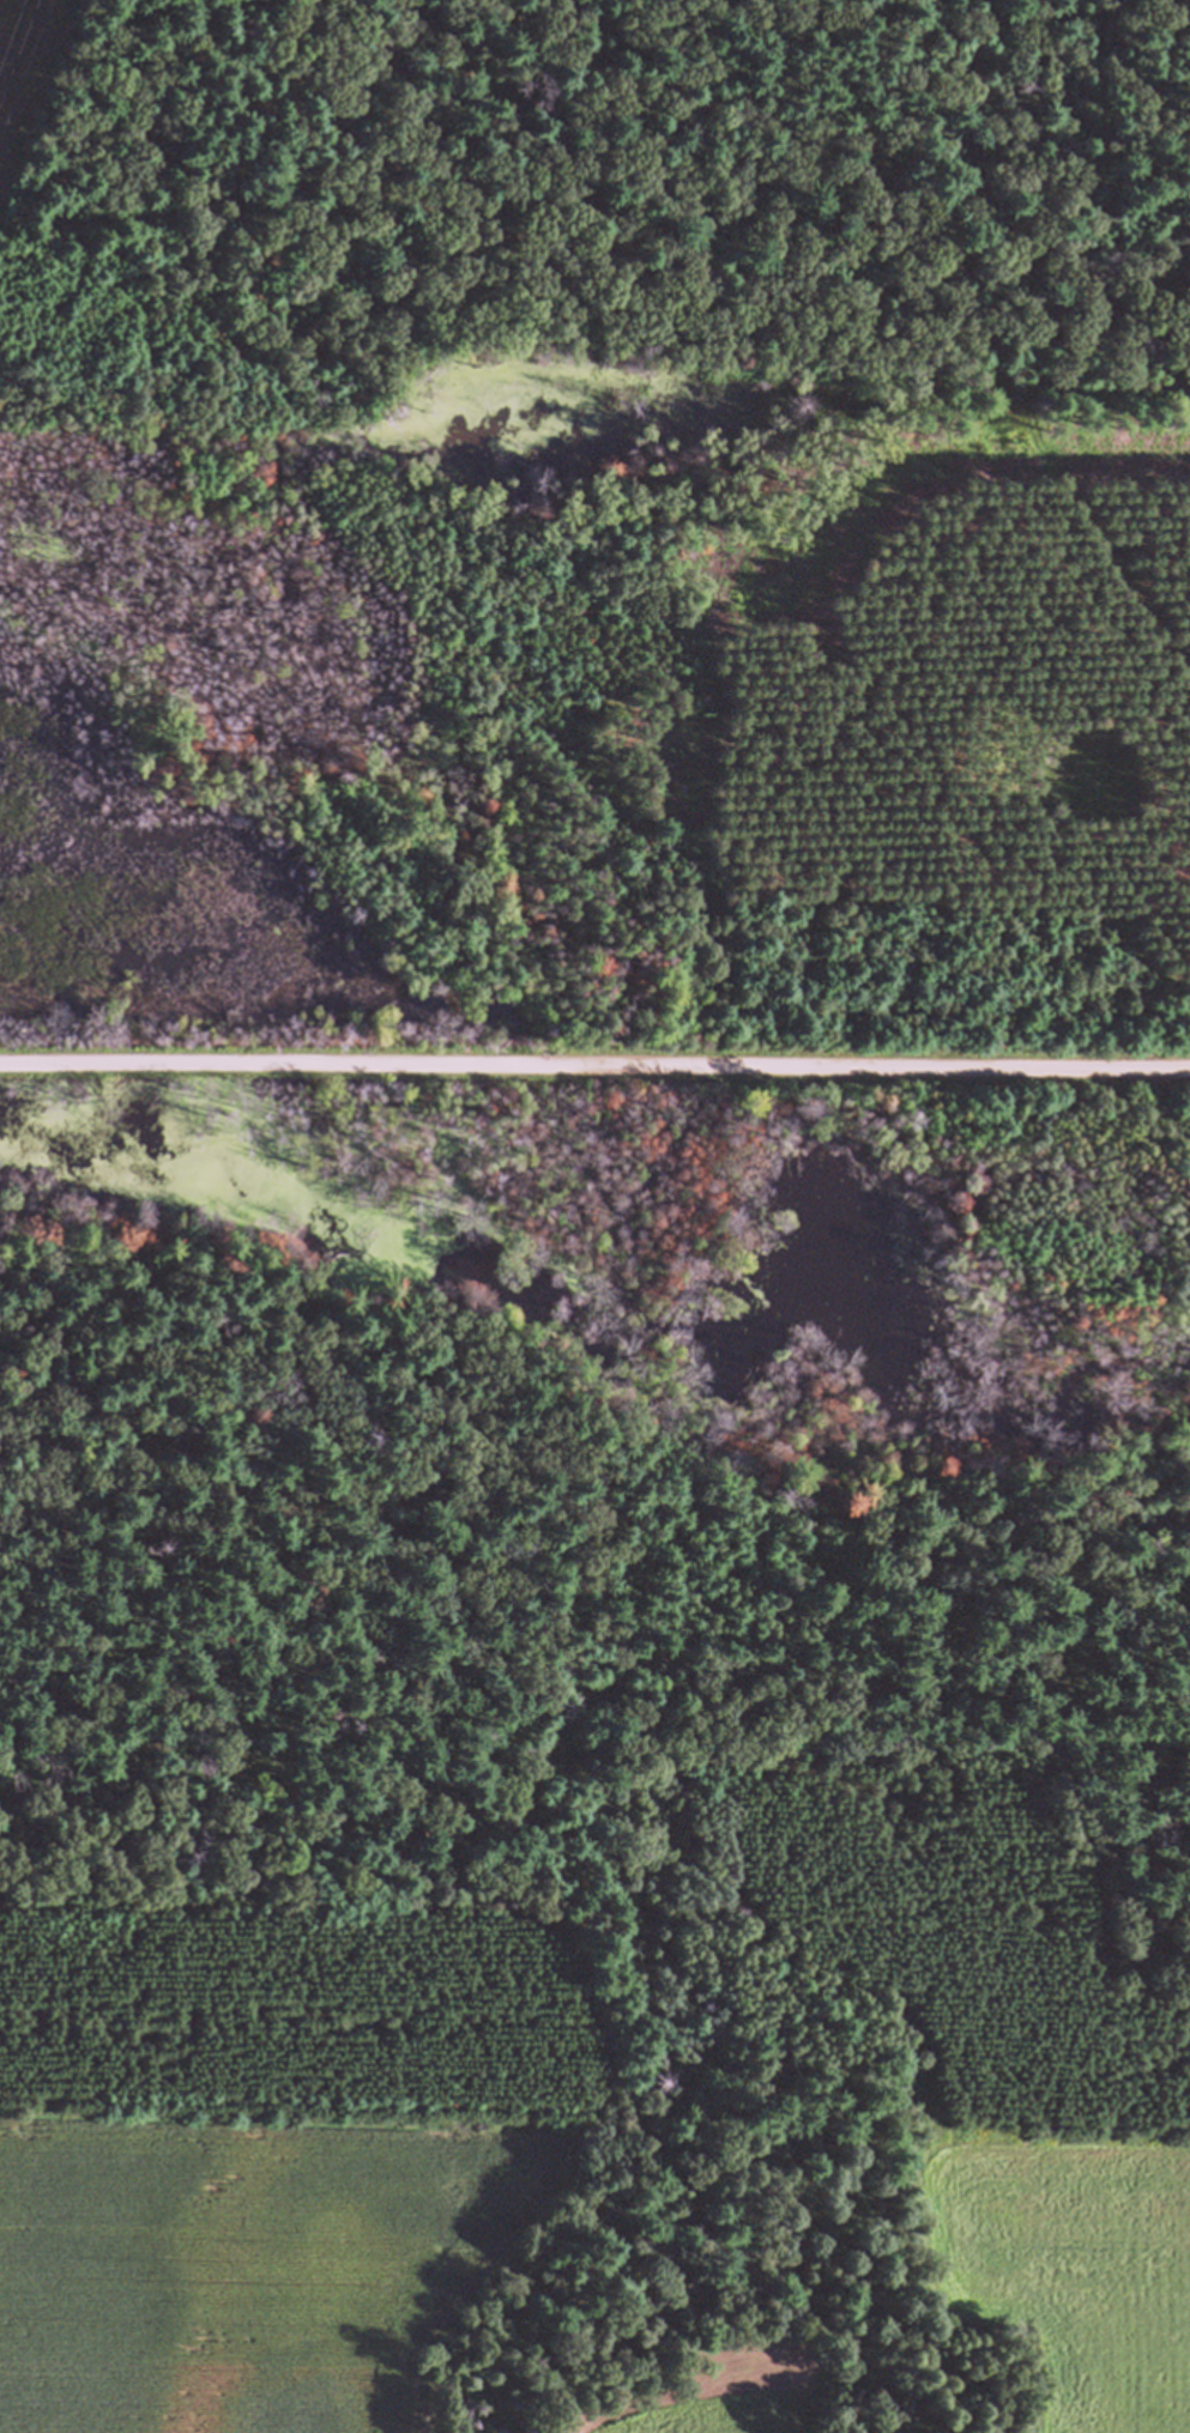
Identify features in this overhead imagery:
road: (594, 1059)

